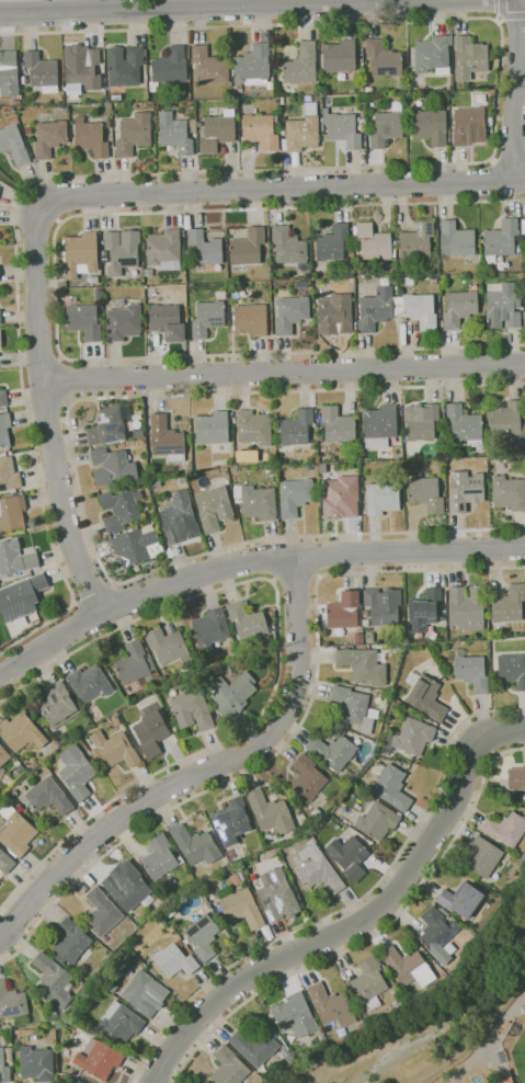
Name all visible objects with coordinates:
road: (215, 7)
road: (499, 9)
road: (512, 18)
road: (497, 19)
building: (433, 55)
building: (340, 56)
building: (384, 58)
building: (469, 58)
building: (253, 65)
building: (301, 65)
building: (125, 66)
building: (208, 66)
building: (169, 68)
building: (42, 71)
building: (83, 72)
building: (9, 73)
building: (341, 77)
building: (24, 79)
building: (369, 89)
road: (517, 90)
building: (227, 93)
building: (282, 100)
building: (158, 106)
building: (283, 124)
building: (193, 125)
building: (199, 125)
building: (430, 126)
building: (469, 126)
building: (342, 128)
building: (388, 128)
building: (303, 129)
building: (261, 130)
building: (218, 132)
building: (174, 133)
building: (283, 133)
building: (134, 134)
building: (91, 137)
building: (50, 138)
building: (13, 145)
road: (509, 156)
building: (296, 159)
road: (318, 168)
road: (281, 189)
road: (47, 213)
road: (57, 220)
building: (524, 224)
building: (456, 240)
building: (502, 240)
building: (416, 241)
building: (375, 242)
building: (332, 243)
building: (288, 246)
building: (248, 247)
building: (206, 248)
building: (164, 250)
building: (122, 251)
building: (187, 252)
building: (80, 254)
building: (148, 272)
building: (93, 280)
building: (434, 280)
building: (351, 281)
building: (409, 281)
road: (55, 287)
building: (220, 294)
building: (503, 307)
building: (184, 308)
building: (459, 308)
building: (376, 309)
building: (416, 310)
building: (292, 314)
building: (183, 315)
building: (334, 316)
building: (0, 317)
building: (208, 317)
building: (82, 319)
building: (251, 319)
building: (167, 321)
building: (124, 322)
building: (0, 339)
road: (283, 372)
road: (58, 379)
building: (3, 399)
road: (46, 413)
building: (192, 420)
building: (233, 420)
building: (421, 421)
building: (509, 422)
building: (338, 424)
building: (110, 425)
building: (379, 425)
building: (465, 425)
building: (253, 428)
building: (296, 429)
building: (4, 430)
building: (213, 431)
building: (167, 438)
building: (319, 438)
building: (113, 446)
building: (397, 453)
building: (113, 466)
building: (323, 468)
building: (9, 475)
road: (76, 478)
building: (465, 490)
building: (425, 493)
building: (509, 493)
building: (295, 497)
building: (341, 497)
building: (383, 497)
building: (256, 502)
building: (214, 508)
building: (121, 509)
building: (12, 512)
building: (179, 518)
building: (134, 545)
building: (15, 558)
road: (248, 561)
road: (295, 579)
road: (92, 595)
building: (21, 597)
building: (383, 605)
building: (510, 605)
building: (466, 607)
building: (344, 611)
building: (423, 611)
building: (444, 611)
building: (247, 620)
building: (365, 623)
building: (210, 628)
building: (369, 637)
building: (358, 638)
building: (167, 646)
building: (235, 656)
road: (277, 662)
building: (133, 663)
building: (363, 664)
building: (512, 670)
building: (471, 671)
building: (450, 677)
building: (89, 683)
building: (367, 689)
building: (231, 694)
building: (424, 695)
building: (58, 706)
building: (354, 707)
building: (192, 709)
building: (115, 721)
building: (21, 732)
building: (151, 733)
building: (410, 737)
road: (292, 738)
building: (116, 749)
building: (332, 751)
building: (3, 755)
building: (34, 764)
building: (19, 765)
building: (77, 772)
road: (203, 772)
building: (1, 773)
building: (0, 777)
building: (307, 778)
building: (516, 778)
building: (391, 786)
building: (48, 796)
building: (270, 812)
building: (232, 821)
building: (378, 821)
building: (505, 829)
building: (15, 832)
building: (195, 845)
building: (483, 856)
building: (523, 856)
building: (349, 857)
building: (160, 859)
building: (253, 859)
building: (5, 863)
building: (318, 870)
building: (127, 886)
building: (207, 888)
building: (277, 896)
building: (460, 899)
building: (242, 909)
road: (350, 910)
building: (444, 912)
building: (102, 913)
road: (355, 923)
building: (174, 933)
building: (437, 934)
road: (373, 936)
building: (202, 937)
building: (71, 942)
building: (180, 943)
building: (174, 961)
building: (408, 967)
building: (53, 981)
building: (369, 983)
building: (145, 993)
building: (413, 996)
building: (11, 1002)
building: (331, 1005)
road: (444, 1010)
building: (295, 1015)
building: (121, 1022)
road: (489, 1039)
building: (254, 1047)
building: (9, 1053)
park: (520, 1057)
building: (99, 1058)
building: (36, 1063)
building: (229, 1068)
building: (3, 1069)
building: (507, 1080)
building: (272, 1081)

